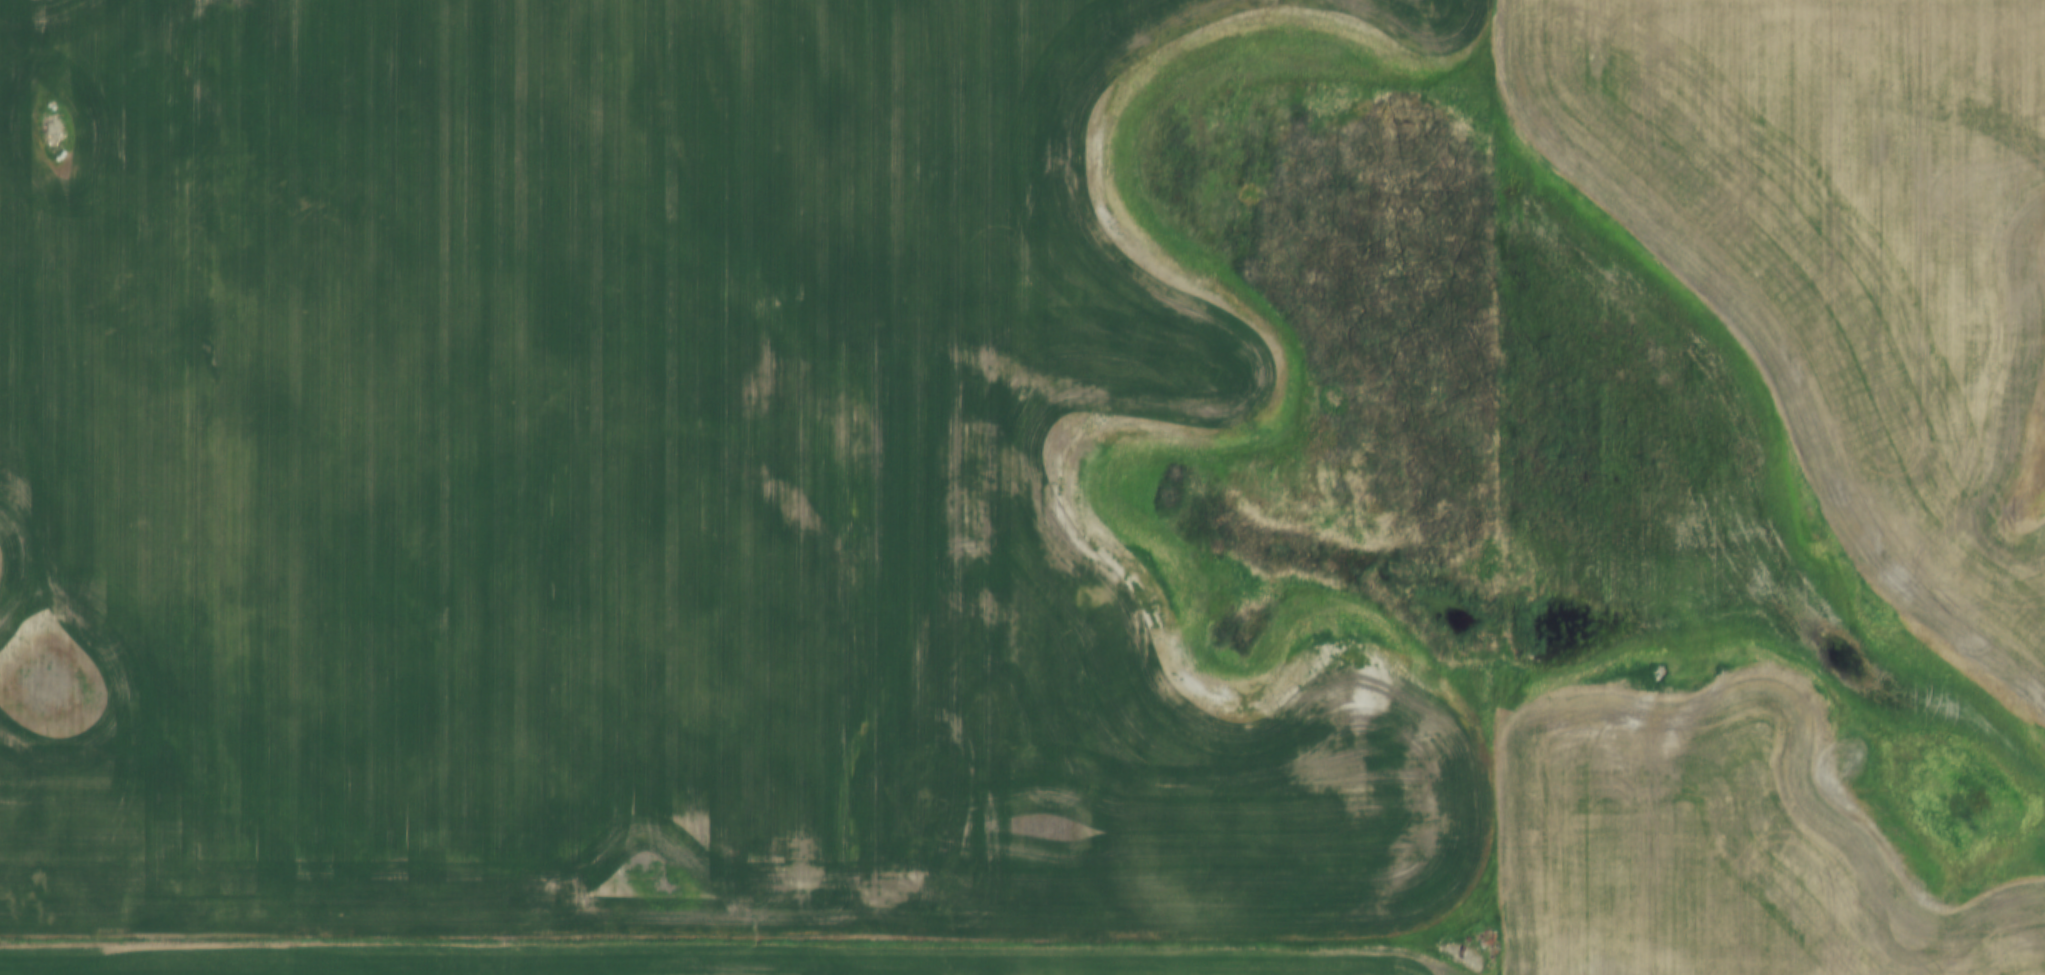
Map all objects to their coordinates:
road: (1511, 487)

